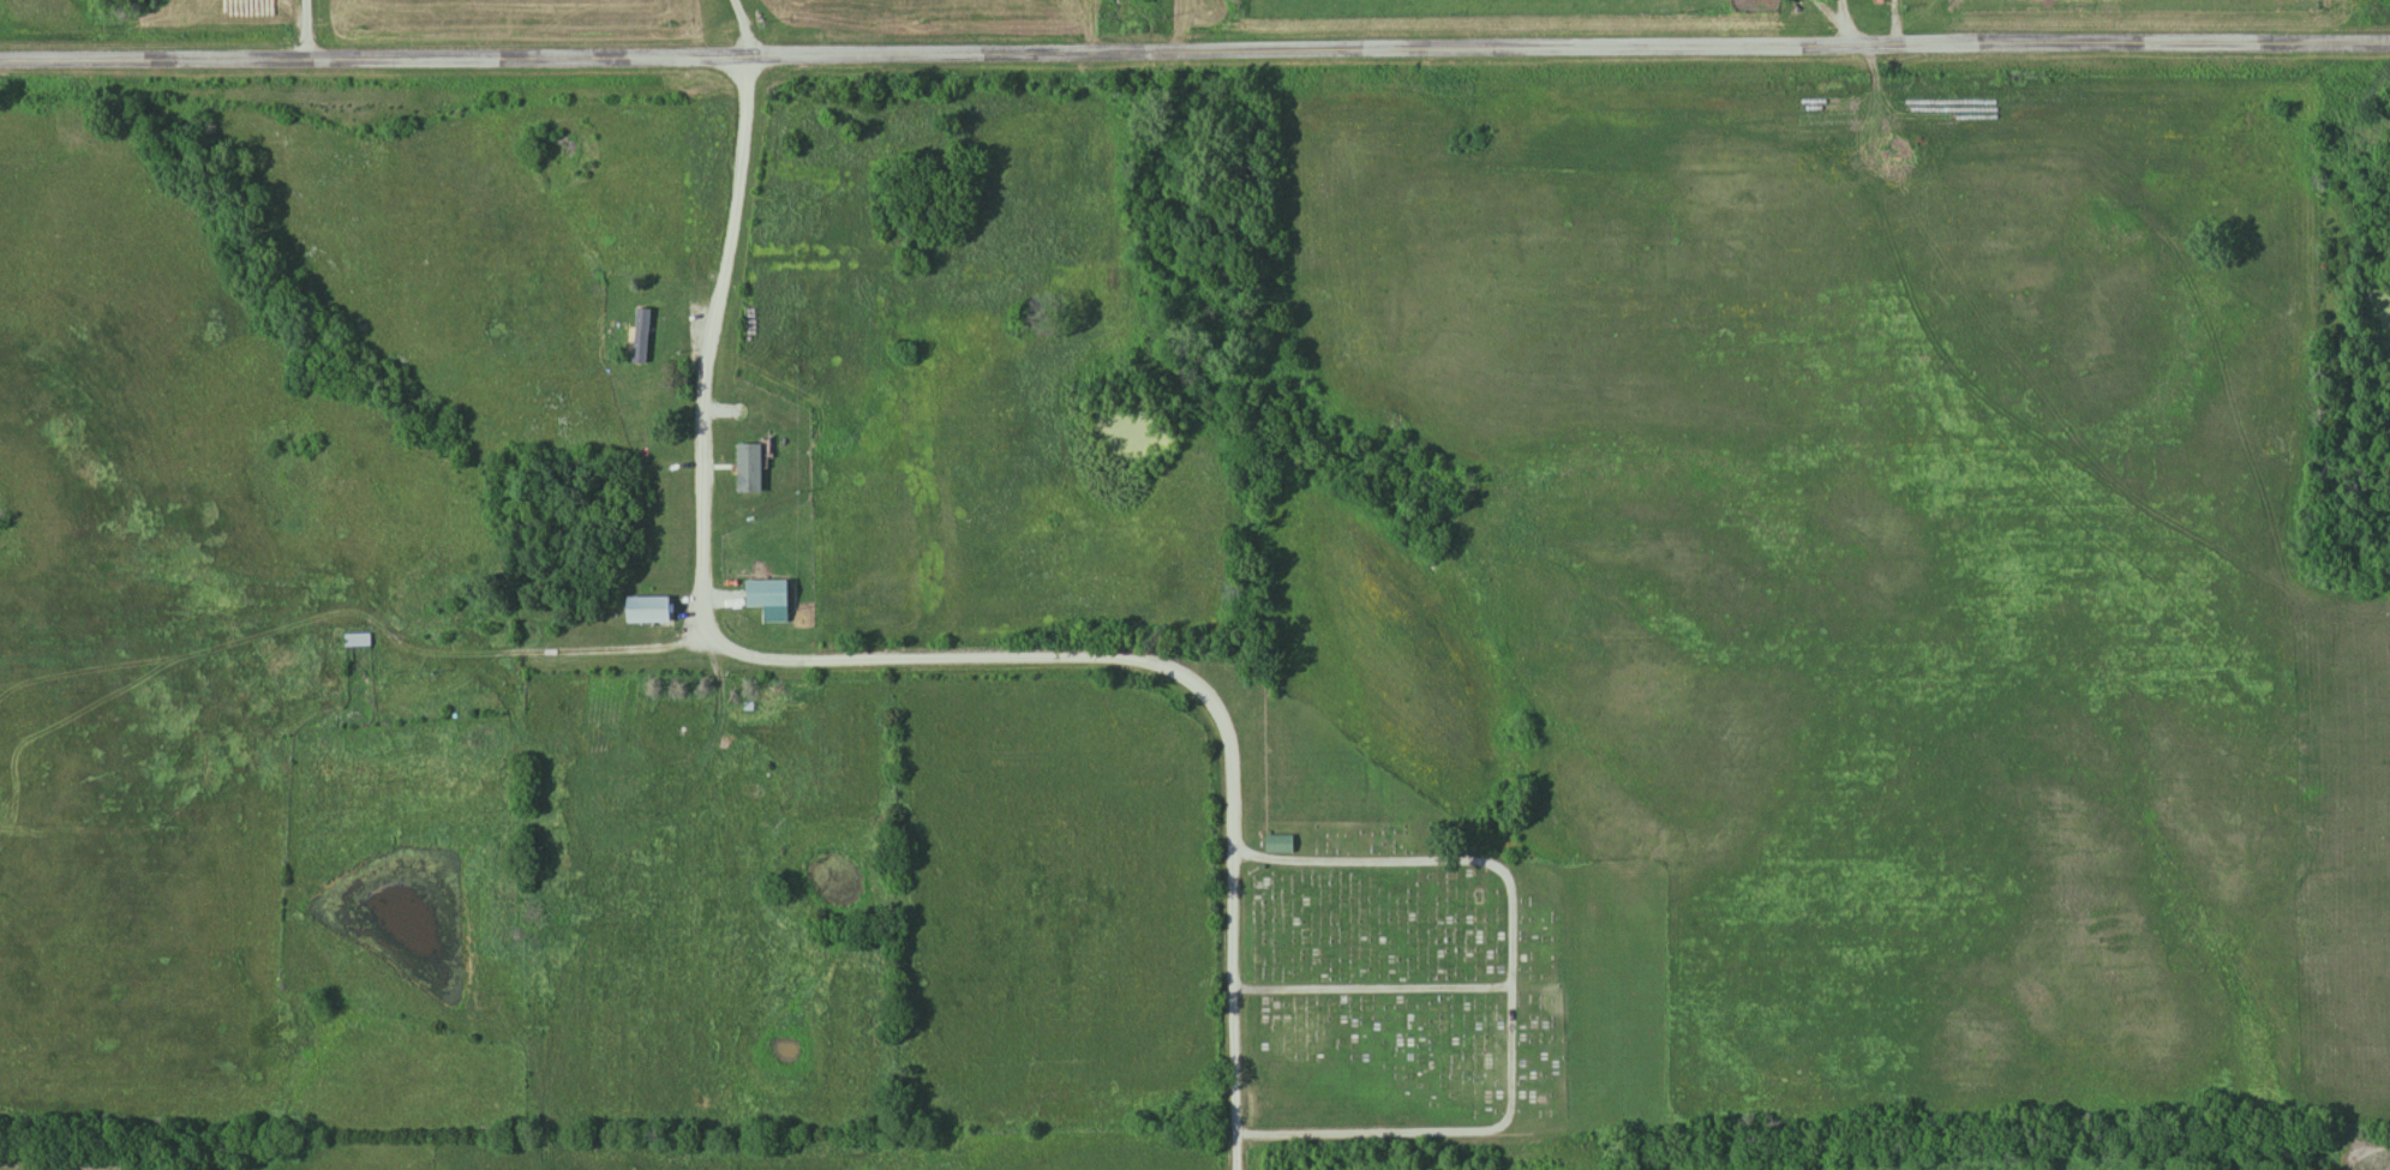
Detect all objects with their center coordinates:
road: (743, 28)
road: (303, 29)
road: (1194, 53)
building: (658, 314)
building: (751, 468)
building: (772, 594)
building: (651, 610)
building: (532, 636)
building: (358, 641)
road: (909, 660)
building: (1281, 844)
park: (1431, 960)

